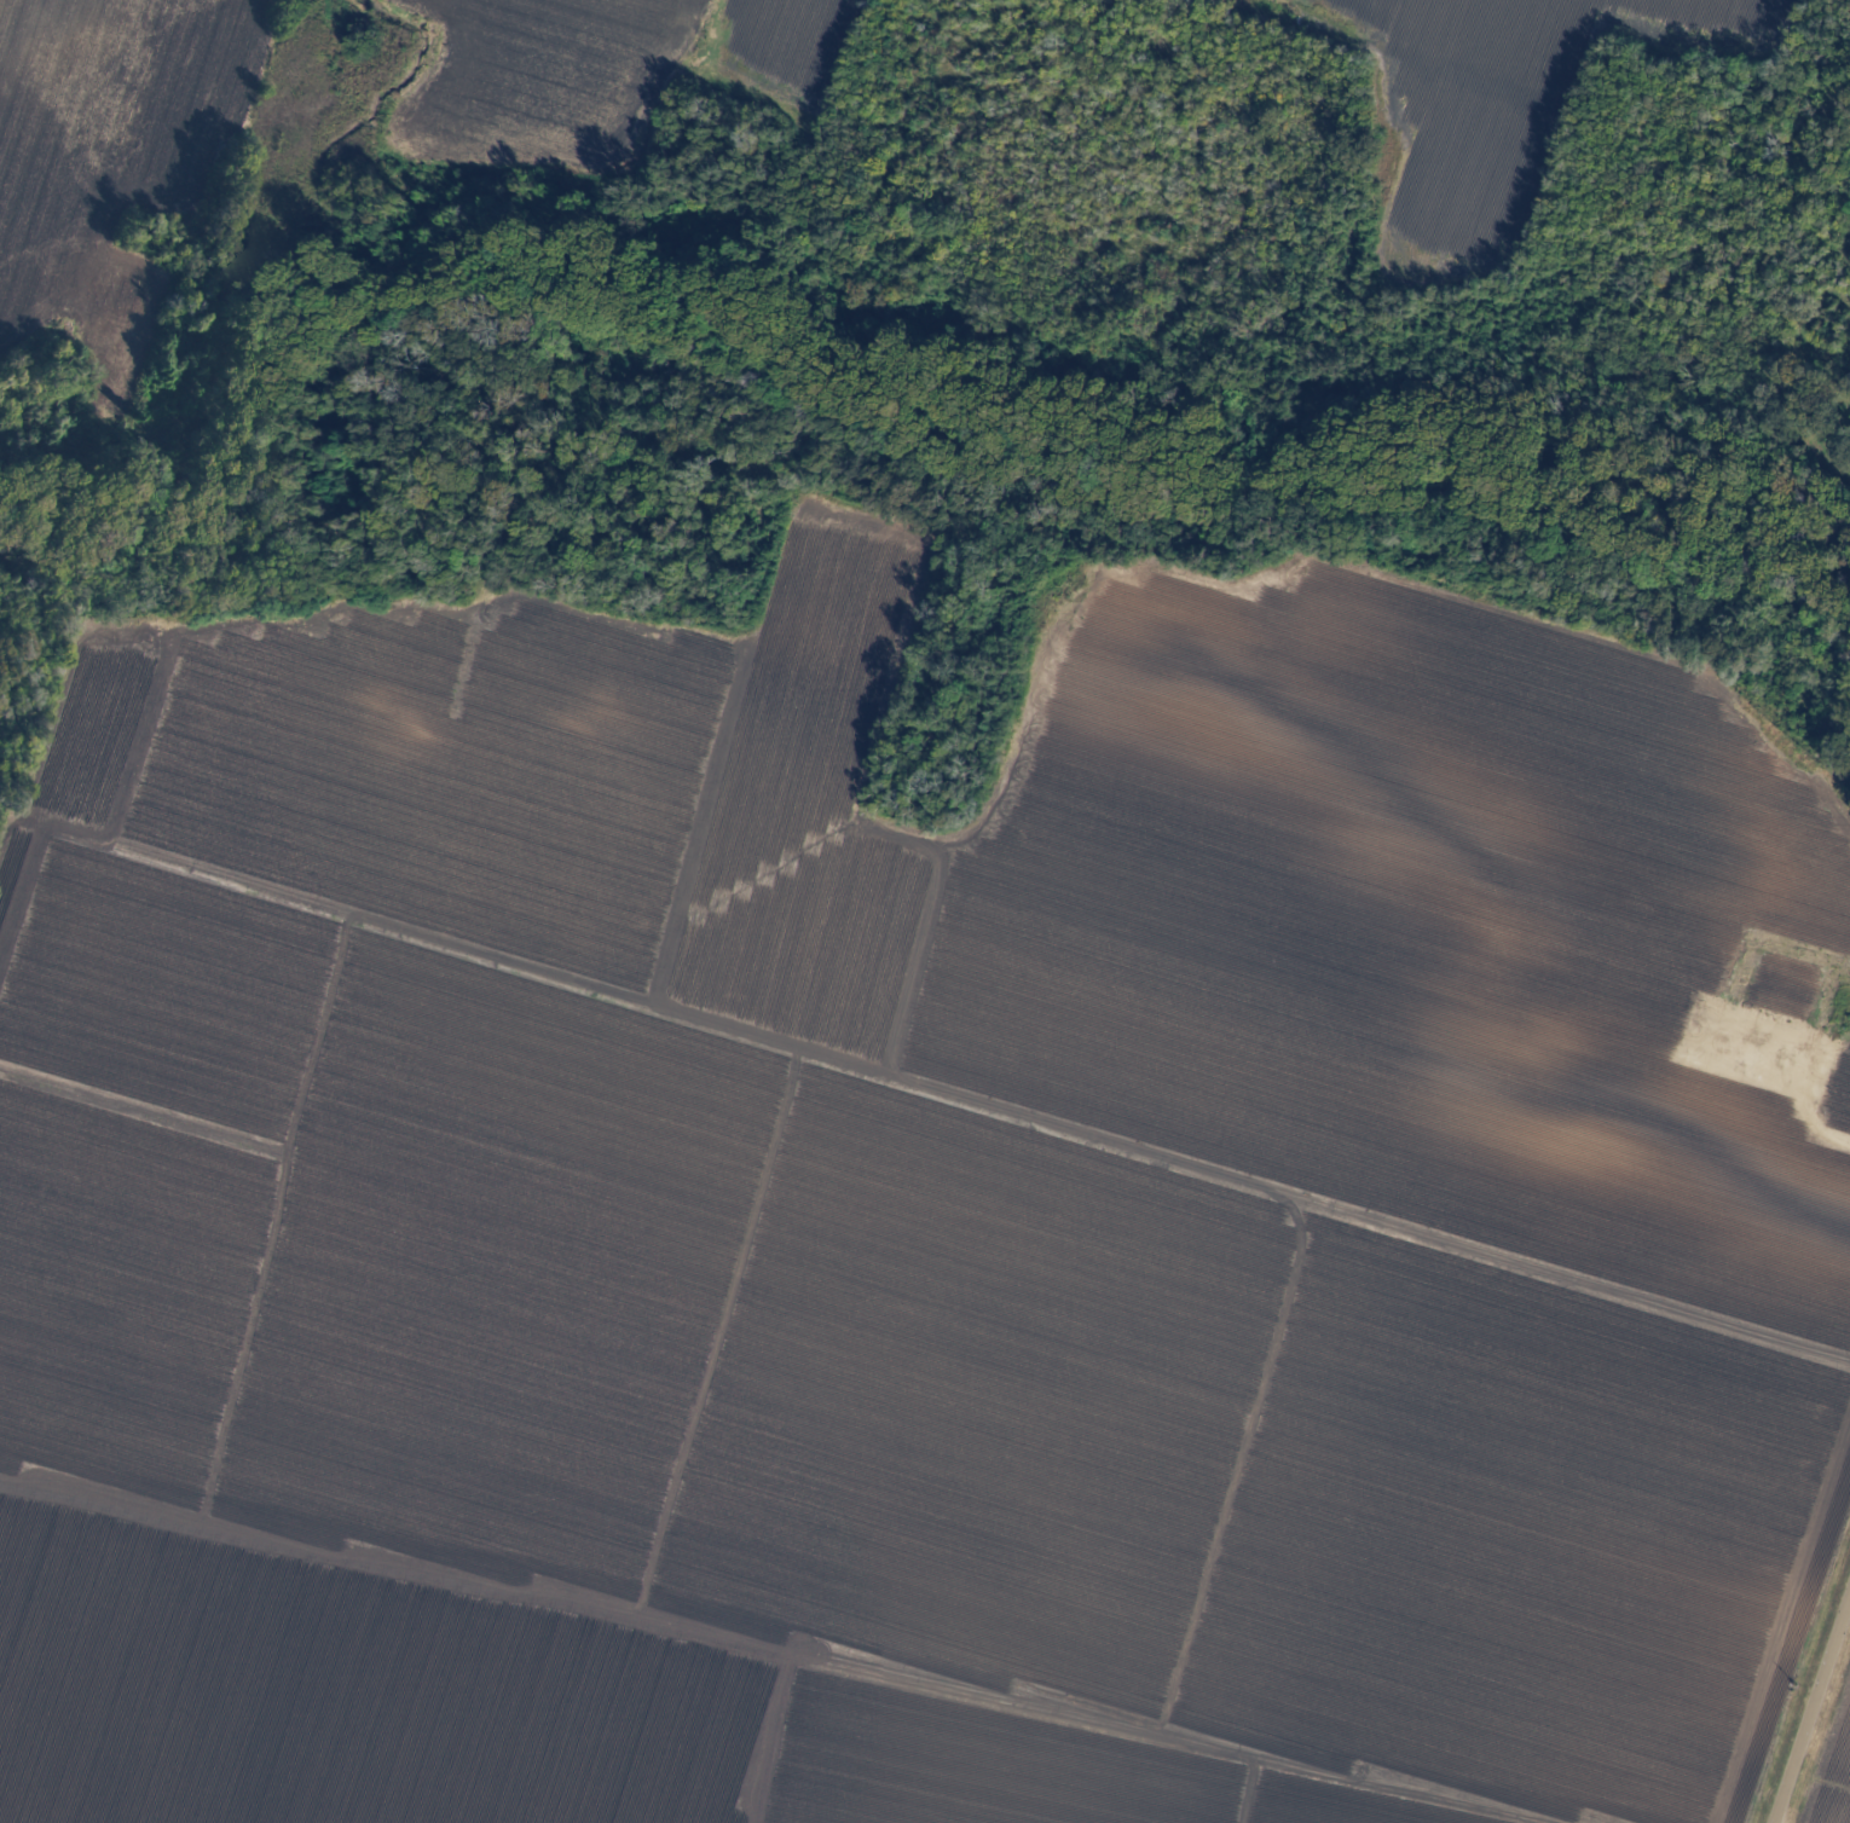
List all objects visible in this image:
road: (1817, 1725)

